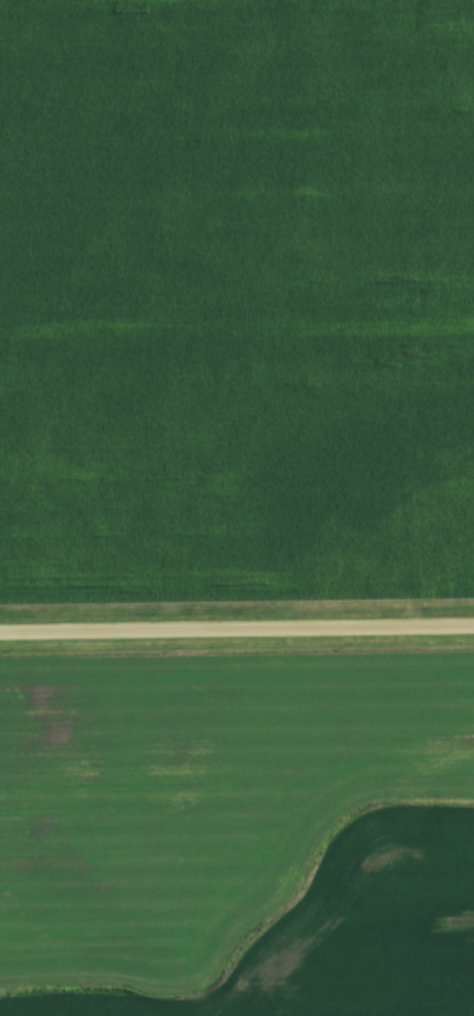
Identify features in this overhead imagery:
road: (237, 628)

